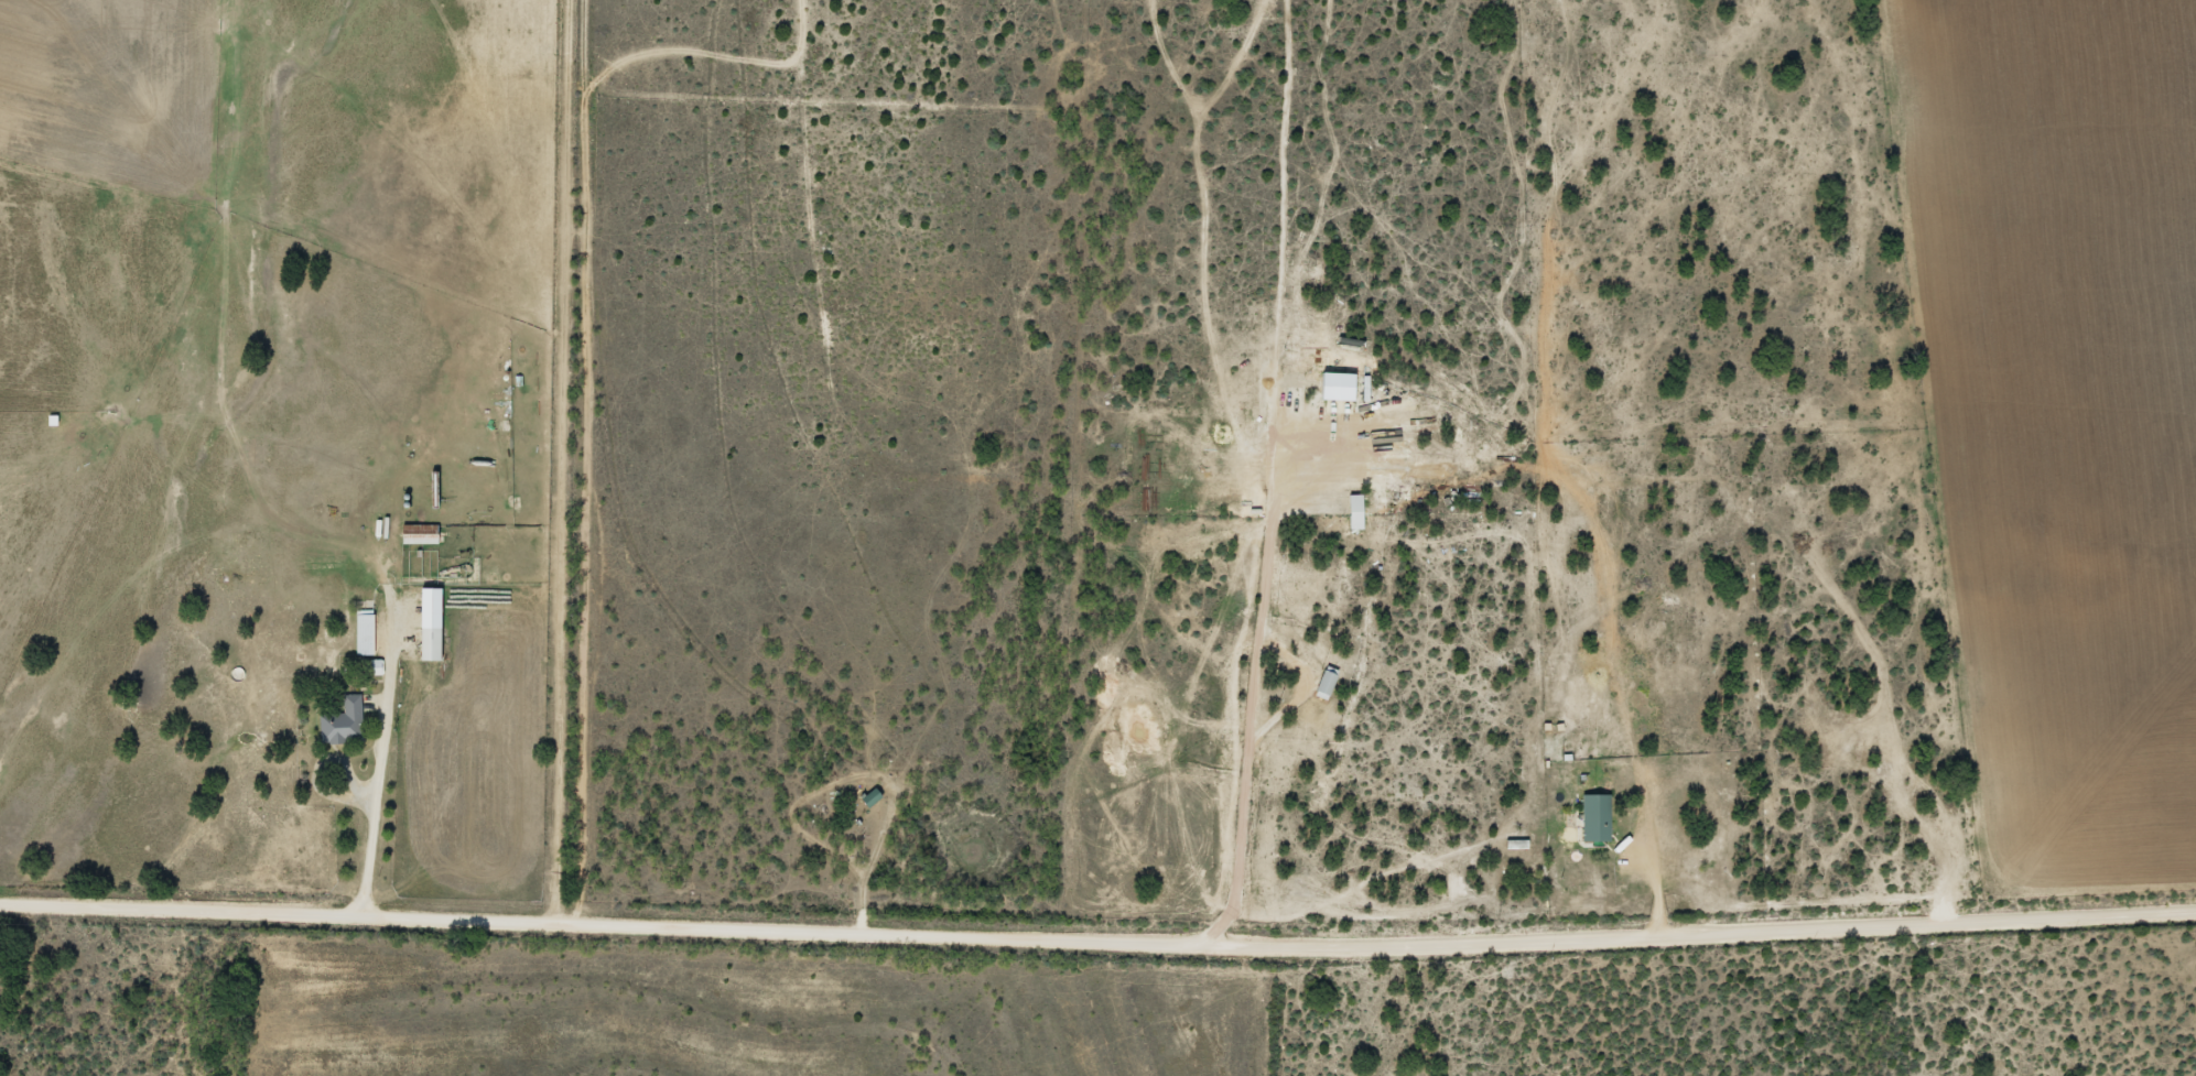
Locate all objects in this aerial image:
road: (575, 461)
building: (366, 632)
building: (433, 644)
building: (345, 721)
road: (379, 756)
building: (874, 797)
building: (1598, 818)
road: (1646, 874)
road: (1097, 943)

